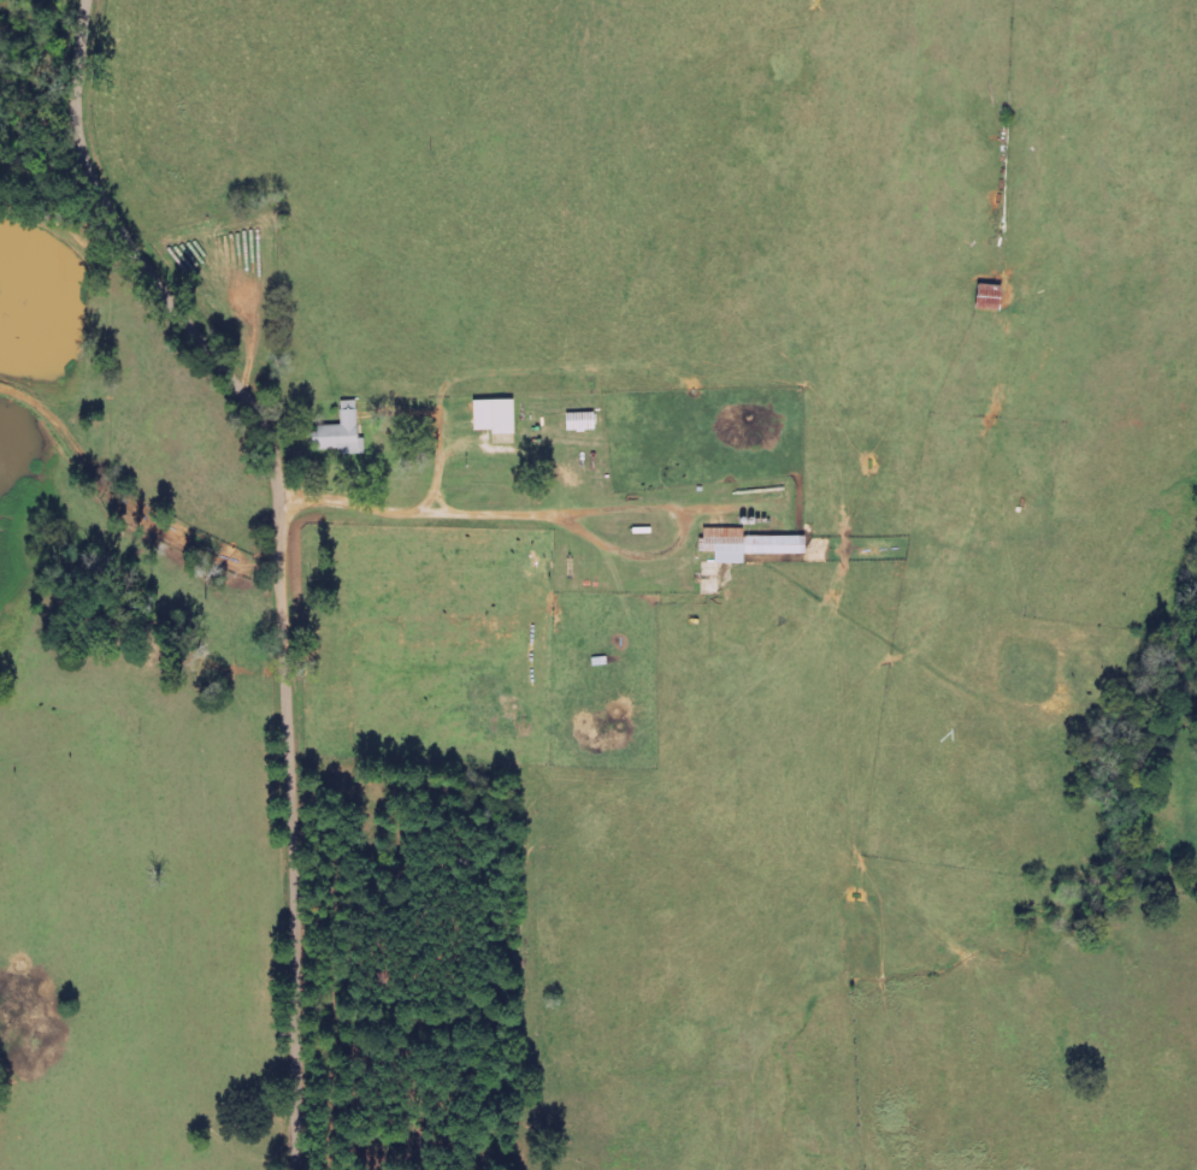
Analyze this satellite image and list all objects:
building: (497, 418)
building: (341, 432)
road: (423, 516)
road: (112, 519)
road: (684, 532)
road: (282, 545)
building: (751, 545)

